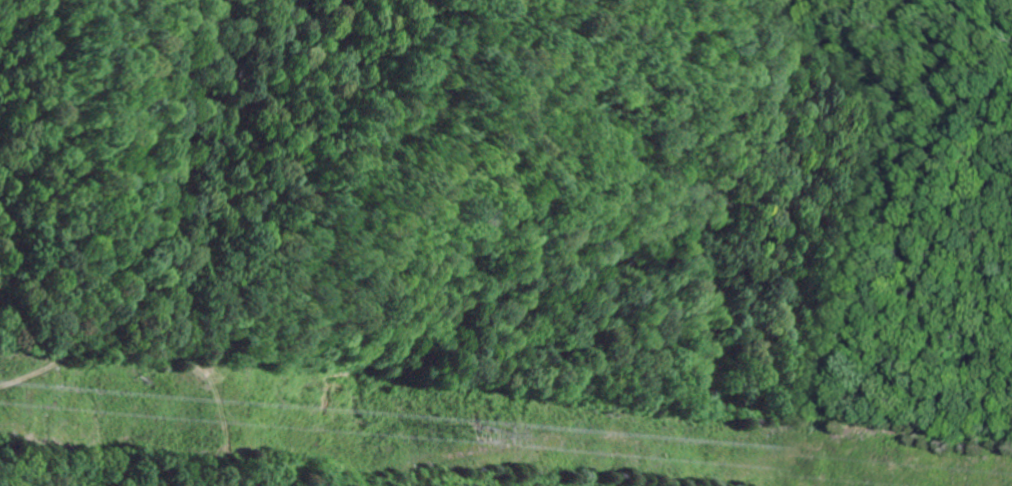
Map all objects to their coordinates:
power tower: (463, 438)

